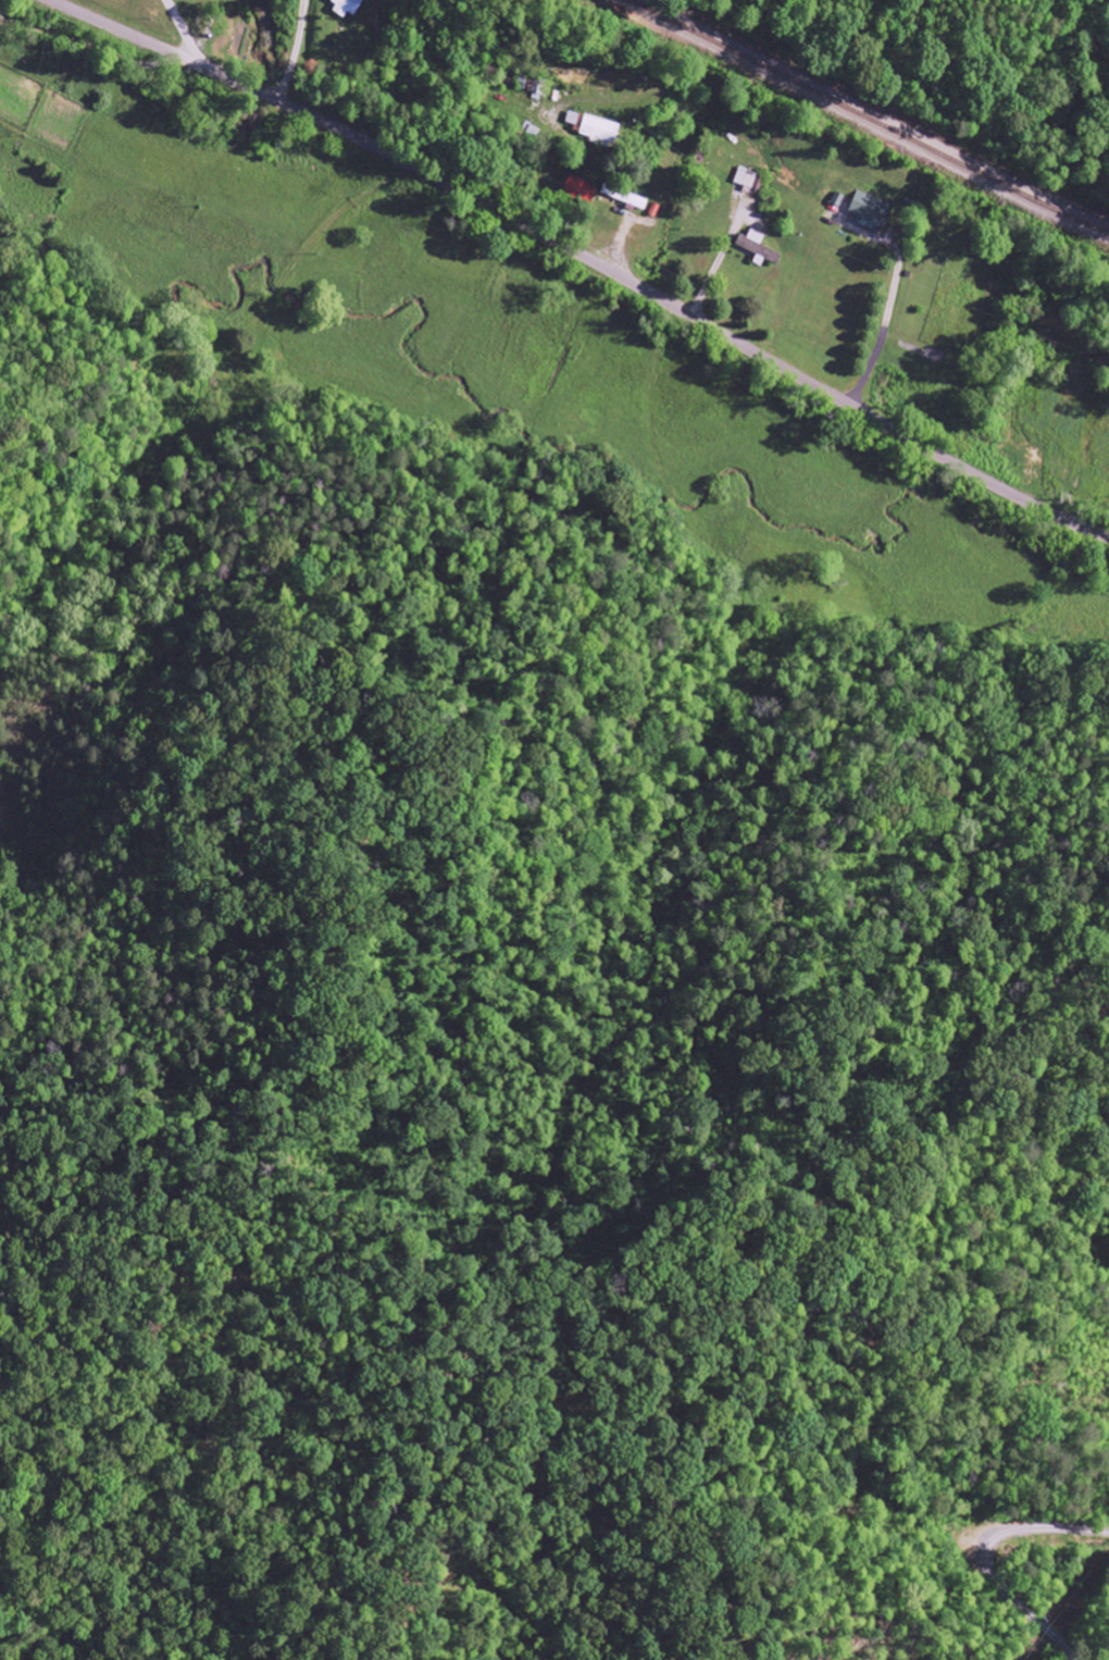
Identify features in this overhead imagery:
building: (348, 7)
building: (573, 117)
railway: (873, 117)
building: (600, 128)
building: (745, 177)
building: (624, 196)
road: (587, 257)

